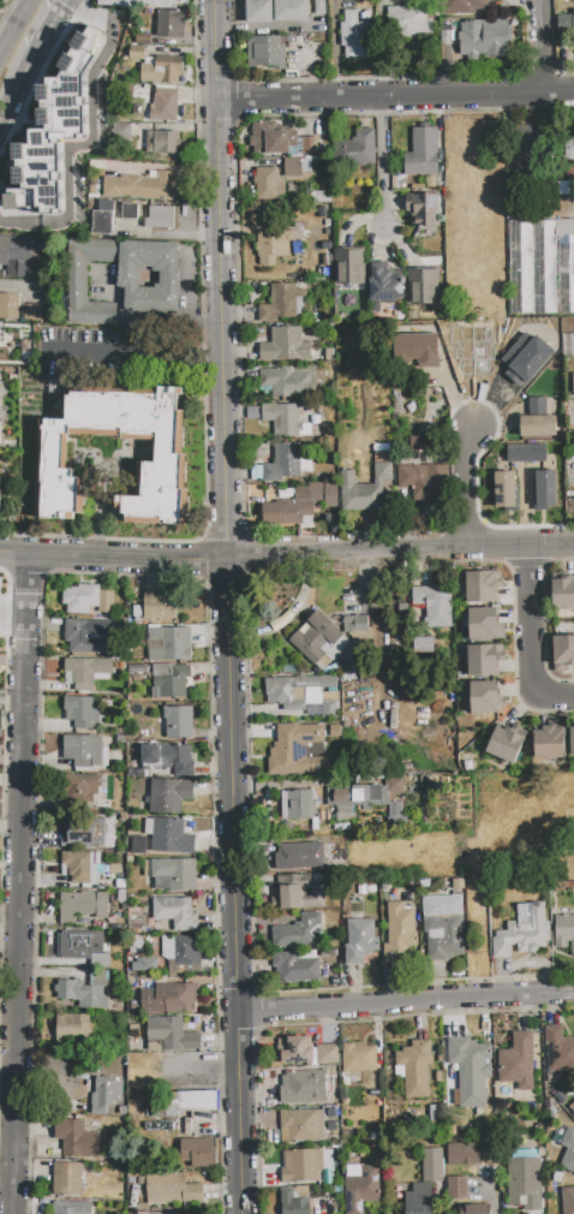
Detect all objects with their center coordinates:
building: (140, 4)
building: (319, 6)
building: (461, 6)
building: (292, 10)
building: (259, 11)
building: (407, 22)
building: (101, 24)
building: (169, 24)
road: (50, 25)
road: (16, 28)
building: (573, 28)
building: (355, 36)
building: (144, 38)
building: (483, 38)
road: (540, 46)
building: (265, 53)
building: (137, 55)
building: (77, 56)
building: (161, 72)
road: (16, 84)
road: (394, 96)
building: (62, 99)
building: (159, 101)
road: (382, 107)
building: (121, 131)
building: (527, 137)
building: (44, 138)
building: (271, 138)
building: (163, 142)
building: (570, 148)
building: (354, 150)
building: (107, 151)
building: (423, 153)
building: (293, 167)
road: (383, 171)
building: (30, 178)
building: (269, 184)
building: (142, 185)
building: (318, 197)
building: (421, 209)
building: (130, 212)
building: (12, 215)
building: (72, 215)
building: (160, 219)
building: (102, 222)
building: (271, 249)
building: (19, 256)
building: (348, 266)
building: (540, 266)
building: (149, 276)
building: (77, 281)
building: (385, 285)
building: (424, 286)
building: (281, 302)
building: (10, 307)
building: (32, 313)
building: (568, 344)
building: (286, 346)
building: (414, 350)
road: (118, 352)
road: (209, 353)
building: (525, 357)
building: (287, 381)
building: (573, 383)
building: (1, 387)
building: (536, 405)
building: (277, 418)
building: (538, 426)
building: (0, 433)
building: (527, 453)
building: (52, 457)
building: (283, 464)
building: (423, 481)
building: (0, 483)
building: (369, 487)
road: (465, 487)
building: (546, 488)
building: (504, 489)
building: (323, 493)
building: (295, 514)
road: (287, 554)
building: (483, 587)
building: (563, 593)
building: (80, 599)
building: (106, 602)
building: (436, 603)
building: (160, 605)
road: (227, 607)
building: (355, 624)
building: (485, 624)
road: (531, 635)
building: (88, 636)
building: (318, 641)
building: (169, 644)
building: (562, 653)
building: (485, 660)
building: (88, 672)
building: (171, 679)
building: (303, 694)
building: (486, 697)
building: (83, 712)
building: (178, 722)
building: (572, 742)
building: (507, 743)
building: (550, 743)
building: (297, 750)
building: (85, 751)
building: (171, 758)
building: (394, 786)
building: (86, 791)
building: (357, 795)
building: (169, 796)
building: (297, 804)
building: (346, 814)
building: (77, 831)
building: (169, 835)
building: (139, 845)
building: (299, 856)
building: (82, 867)
building: (174, 874)
road: (23, 885)
building: (294, 893)
building: (84, 906)
building: (173, 911)
building: (443, 927)
building: (525, 932)
building: (564, 932)
building: (297, 933)
building: (400, 933)
building: (360, 941)
building: (137, 945)
building: (83, 947)
building: (180, 950)
building: (145, 965)
building: (295, 968)
building: (82, 994)
building: (166, 998)
road: (406, 1004)
building: (73, 1025)
building: (172, 1034)
building: (558, 1051)
building: (297, 1052)
building: (328, 1053)
building: (358, 1057)
building: (516, 1065)
building: (415, 1069)
building: (470, 1071)
building: (304, 1087)
building: (104, 1095)
building: (192, 1101)
building: (573, 1114)
building: (303, 1125)
building: (77, 1139)
building: (568, 1151)
building: (198, 1153)
building: (464, 1154)
building: (434, 1165)
building: (301, 1166)
building: (525, 1178)
building: (71, 1180)
building: (361, 1188)
building: (172, 1189)
building: (456, 1189)
building: (419, 1200)
building: (568, 1201)
building: (293, 1203)
building: (71, 1207)
building: (477, 1209)
building: (160, 1213)

